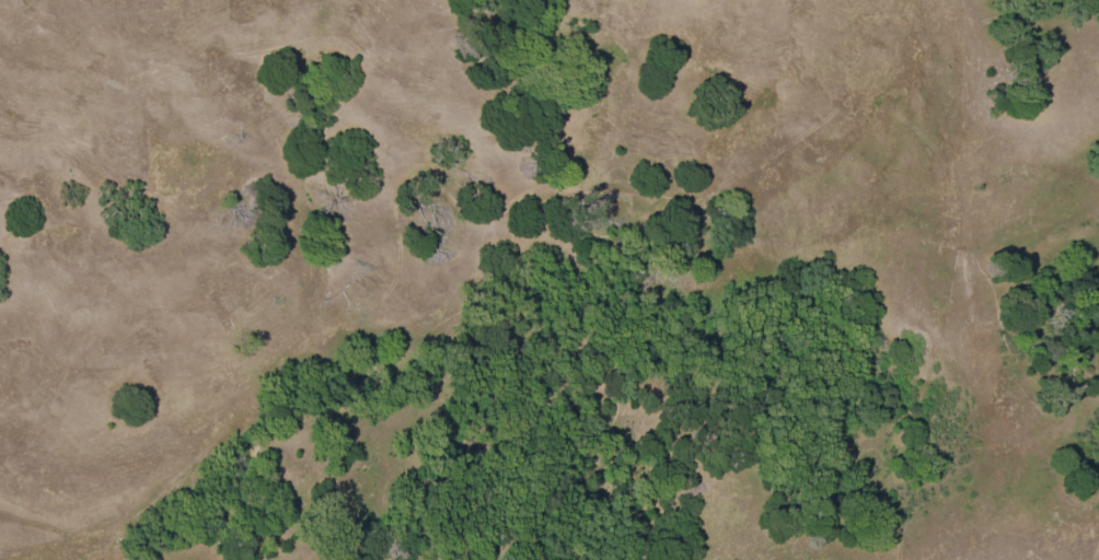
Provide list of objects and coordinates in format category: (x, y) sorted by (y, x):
crop: (35, 525)

